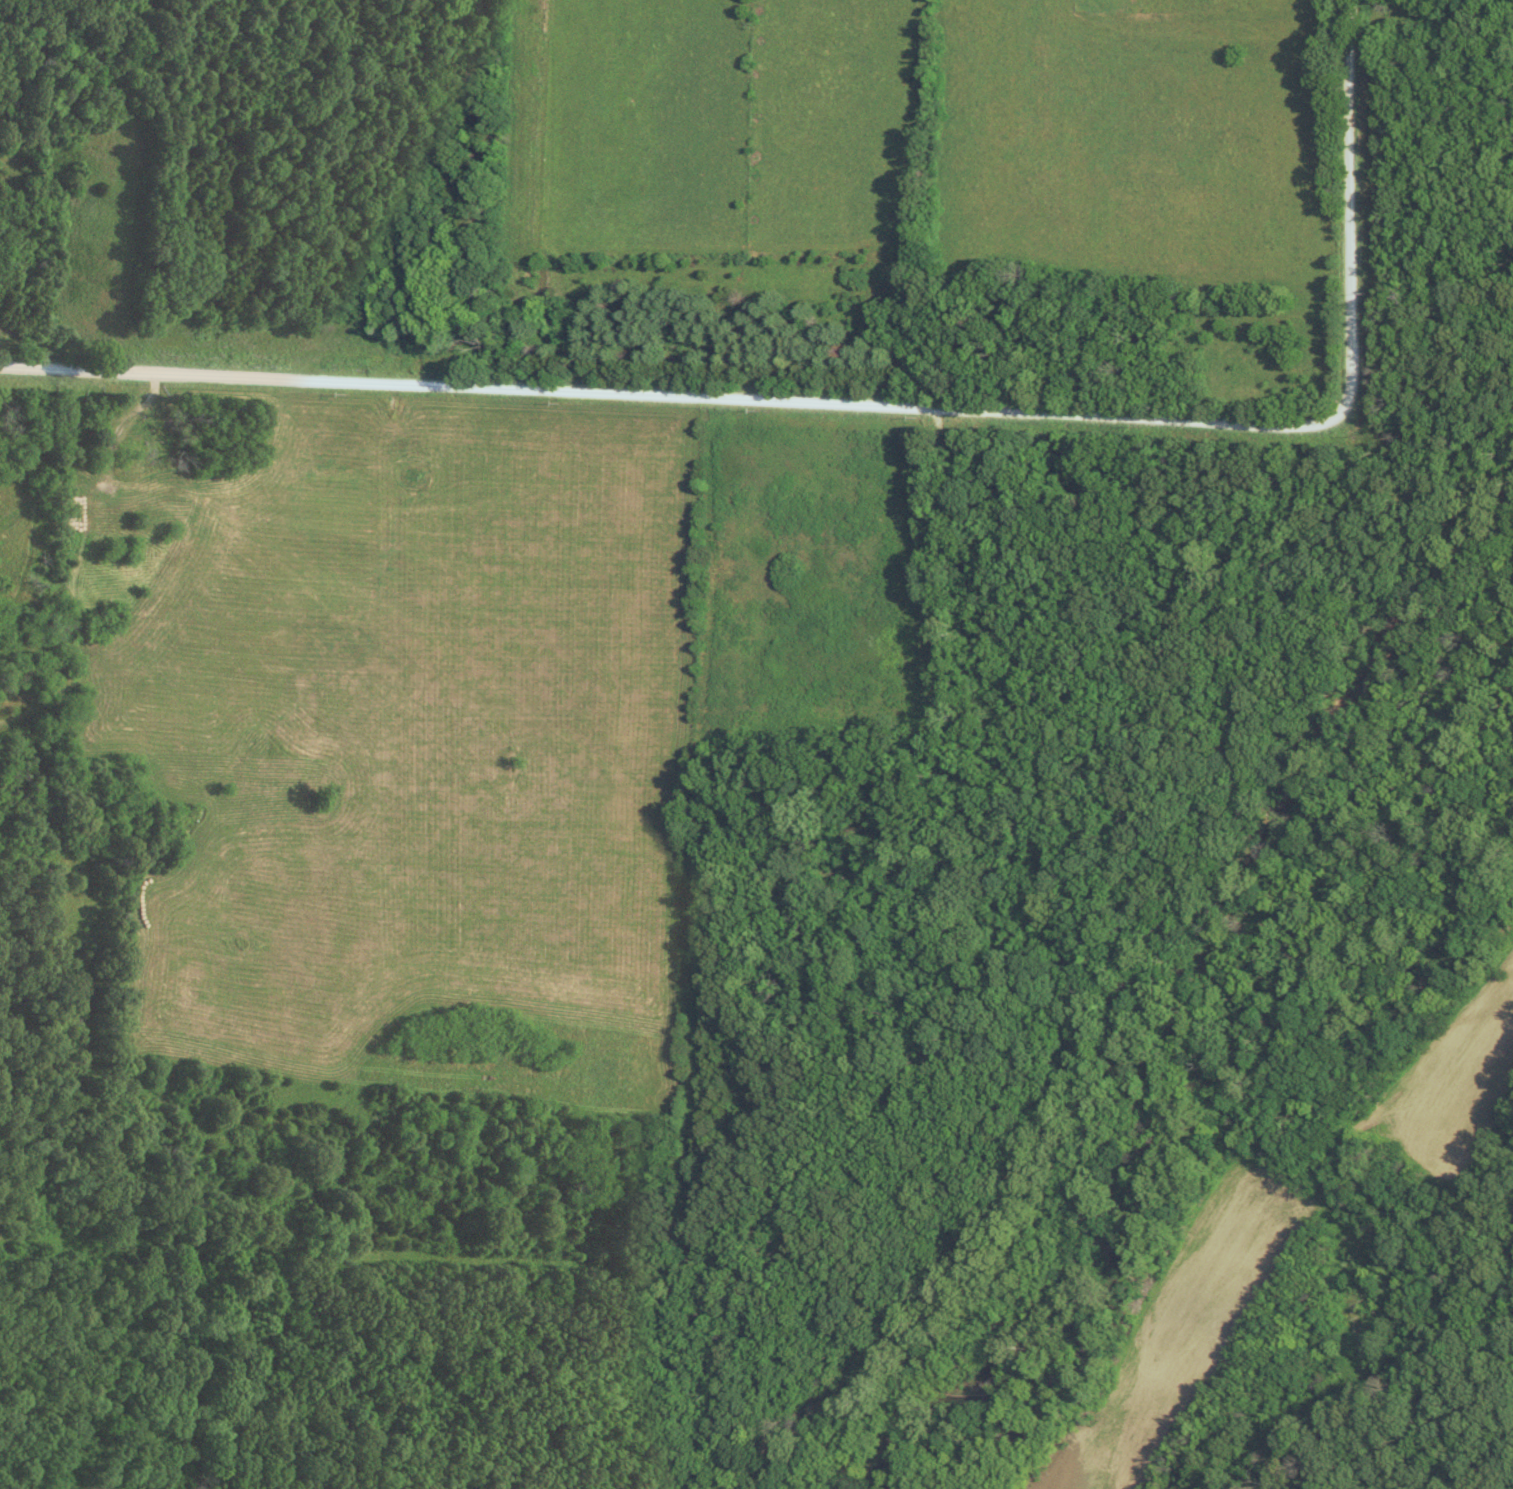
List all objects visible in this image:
road: (876, 408)

